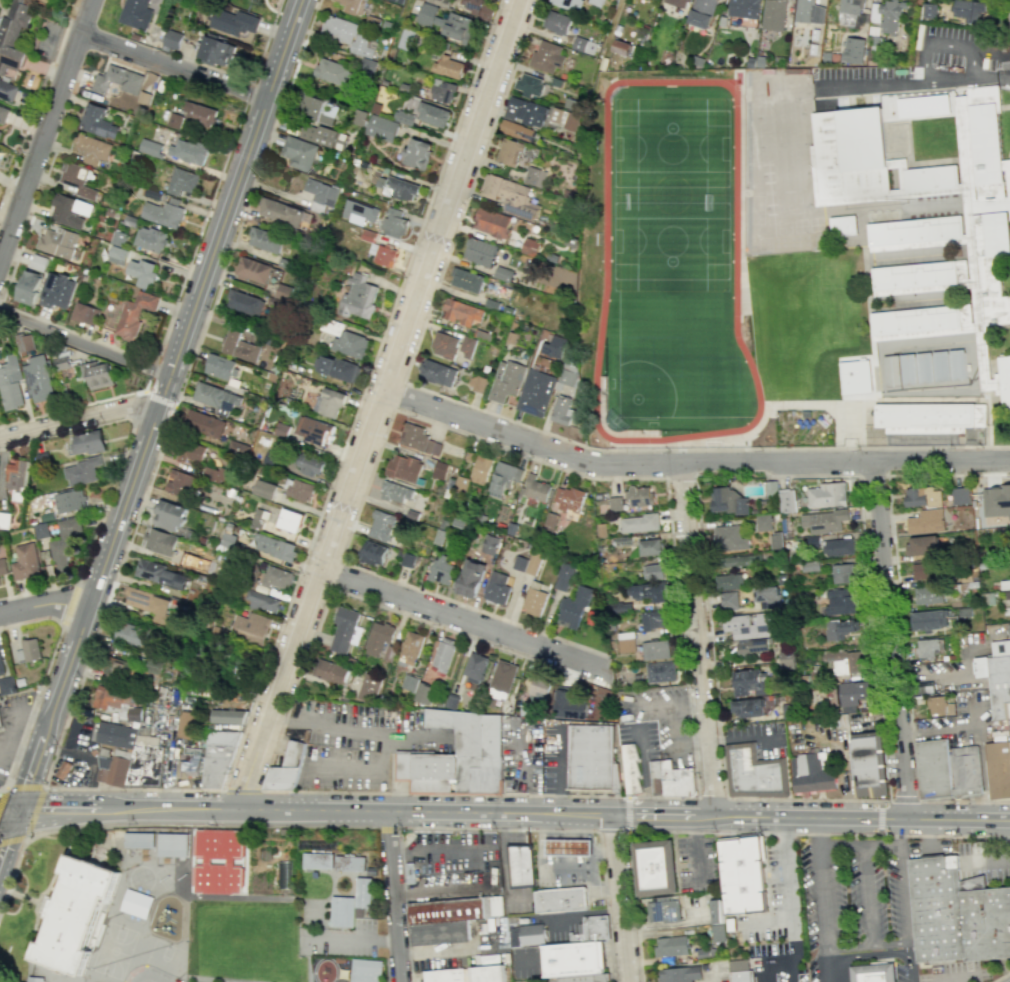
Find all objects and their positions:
building: (440, 2)
building: (595, 2)
building: (567, 3)
building: (678, 3)
building: (352, 6)
building: (475, 6)
building: (744, 8)
building: (969, 10)
building: (930, 11)
building: (809, 12)
building: (850, 12)
building: (135, 13)
building: (701, 13)
building: (773, 14)
building: (886, 15)
road: (1008, 16)
building: (234, 22)
building: (447, 22)
building: (556, 22)
road: (612, 26)
road: (403, 28)
building: (13, 35)
building: (347, 35)
building: (406, 38)
building: (172, 39)
road: (265, 40)
building: (584, 45)
building: (621, 47)
building: (853, 50)
building: (216, 51)
building: (547, 56)
building: (368, 65)
parking lot: (929, 66)
building: (449, 67)
road: (172, 69)
building: (332, 71)
building: (117, 80)
building: (529, 85)
building: (7, 91)
building: (443, 91)
road: (247, 92)
road: (32, 107)
building: (515, 108)
building: (319, 109)
building: (3, 114)
building: (199, 114)
building: (433, 114)
building: (536, 114)
building: (359, 117)
building: (404, 117)
building: (174, 120)
building: (96, 121)
building: (572, 121)
building: (381, 128)
building: (517, 130)
building: (0, 131)
road: (46, 131)
building: (329, 137)
building: (149, 147)
building: (90, 149)
building: (188, 151)
building: (509, 152)
building: (299, 153)
building: (417, 153)
road: (1008, 169)
building: (534, 176)
building: (76, 180)
building: (181, 181)
building: (397, 187)
building: (321, 195)
building: (510, 196)
building: (69, 210)
building: (281, 212)
building: (359, 212)
building: (163, 213)
building: (393, 222)
building: (492, 222)
building: (934, 222)
building: (843, 225)
building: (149, 239)
building: (265, 240)
building: (58, 241)
building: (530, 246)
building: (479, 251)
building: (383, 254)
building: (116, 255)
building: (37, 262)
track: (670, 265)
park: (670, 266)
building: (254, 270)
building: (141, 272)
building: (467, 279)
building: (29, 287)
building: (56, 290)
building: (284, 292)
building: (358, 297)
building: (245, 303)
road: (172, 311)
building: (461, 312)
building: (84, 313)
building: (134, 314)
building: (345, 339)
building: (23, 342)
road: (84, 345)
building: (444, 345)
building: (239, 346)
building: (467, 346)
building: (554, 346)
building: (61, 361)
building: (221, 367)
building: (338, 368)
building: (891, 370)
road: (151, 371)
building: (933, 371)
building: (437, 372)
building: (97, 375)
building: (855, 376)
building: (567, 377)
building: (37, 379)
building: (506, 380)
building: (10, 383)
building: (479, 383)
building: (536, 392)
road: (398, 395)
road: (160, 397)
building: (216, 397)
building: (329, 402)
road: (137, 405)
road: (77, 406)
road: (381, 407)
building: (561, 410)
road: (503, 417)
building: (928, 417)
road: (77, 421)
building: (204, 423)
road: (851, 427)
road: (149, 430)
building: (315, 430)
building: (418, 439)
building: (87, 442)
building: (191, 451)
building: (271, 458)
building: (310, 464)
road: (691, 466)
building: (403, 468)
building: (480, 469)
building: (80, 471)
road: (115, 473)
building: (215, 473)
road: (871, 475)
road: (696, 476)
road: (680, 477)
building: (503, 478)
building: (15, 479)
building: (179, 483)
building: (536, 488)
building: (770, 488)
building: (265, 489)
building: (298, 489)
building: (396, 492)
building: (827, 495)
building: (960, 495)
building: (639, 496)
building: (922, 496)
building: (568, 498)
building: (787, 500)
building: (69, 501)
building: (727, 501)
building: (996, 501)
building: (615, 503)
building: (169, 515)
building: (258, 519)
building: (4, 520)
building: (289, 520)
building: (823, 521)
building: (926, 521)
building: (763, 522)
building: (639, 523)
building: (381, 525)
building: (40, 530)
building: (729, 538)
building: (775, 540)
building: (160, 541)
building: (64, 543)
building: (490, 544)
building: (923, 545)
building: (274, 547)
building: (650, 547)
building: (838, 547)
building: (372, 552)
building: (737, 560)
building: (25, 562)
building: (527, 562)
building: (2, 566)
building: (810, 566)
building: (440, 570)
building: (923, 570)
building: (653, 571)
building: (843, 573)
building: (161, 574)
road: (334, 575)
building: (564, 576)
building: (276, 577)
building: (470, 578)
building: (729, 581)
building: (0, 582)
building: (497, 588)
building: (651, 591)
building: (928, 594)
building: (768, 597)
building: (728, 600)
building: (534, 601)
road: (68, 602)
building: (263, 602)
building: (840, 602)
building: (149, 603)
road: (46, 608)
building: (573, 609)
building: (930, 619)
road: (30, 620)
building: (654, 620)
road: (899, 620)
road: (468, 623)
building: (748, 625)
building: (250, 627)
building: (840, 629)
building: (345, 630)
building: (130, 633)
building: (378, 638)
building: (626, 642)
road: (699, 642)
road: (889, 642)
building: (752, 646)
building: (410, 647)
building: (926, 647)
building: (655, 650)
building: (28, 651)
building: (443, 653)
building: (786, 657)
building: (845, 662)
building: (153, 666)
building: (115, 667)
building: (475, 667)
building: (329, 671)
building: (660, 672)
building: (502, 680)
building: (409, 682)
building: (749, 682)
building: (6, 685)
building: (927, 686)
building: (369, 687)
building: (540, 687)
building: (1000, 688)
building: (424, 693)
building: (851, 695)
building: (109, 697)
road: (670, 703)
building: (569, 705)
road: (33, 706)
building: (939, 706)
building: (747, 707)
building: (133, 713)
building: (227, 716)
road: (35, 718)
parking lot: (660, 718)
building: (185, 724)
building: (0, 726)
parking lot: (11, 726)
road: (356, 728)
building: (0, 731)
building: (115, 734)
road: (13, 735)
parking lot: (640, 737)
road: (680, 738)
road: (692, 746)
building: (472, 747)
parking lot: (520, 753)
building: (293, 754)
parking lot: (554, 755)
building: (217, 756)
building: (591, 757)
building: (145, 760)
building: (189, 761)
building: (113, 767)
building: (629, 767)
building: (425, 768)
building: (62, 769)
building: (872, 769)
building: (933, 769)
building: (998, 770)
building: (968, 772)
road: (525, 773)
road: (558, 774)
building: (756, 774)
road: (646, 776)
building: (814, 776)
building: (281, 778)
building: (670, 778)
road: (2, 787)
road: (134, 789)
road: (240, 790)
road: (711, 797)
road: (38, 798)
road: (903, 799)
road: (8, 810)
road: (44, 810)
road: (95, 811)
road: (625, 812)
traffic signals: (17, 814)
road: (364, 814)
road: (879, 816)
road: (8, 817)
road: (651, 818)
road: (704, 818)
road: (863, 819)
road: (162, 824)
road: (545, 827)
road: (387, 828)
road: (498, 828)
road: (579, 828)
road: (611, 831)
road: (742, 832)
road: (556, 834)
road: (569, 834)
road: (585, 835)
road: (928, 835)
building: (138, 839)
road: (1008, 840)
building: (172, 844)
road: (546, 847)
road: (560, 847)
building: (567, 847)
road: (574, 847)
road: (588, 847)
road: (694, 847)
road: (859, 847)
parking lot: (929, 847)
road: (589, 850)
road: (602, 850)
parking lot: (449, 851)
road: (437, 852)
building: (317, 860)
road: (547, 860)
road: (561, 860)
road: (575, 860)
road: (589, 860)
parking lot: (986, 860)
building: (206, 861)
road: (989, 861)
building: (349, 864)
parking lot: (697, 864)
building: (519, 865)
building: (654, 867)
road: (503, 868)
road: (589, 869)
building: (370, 871)
gas station: (565, 871)
building: (409, 872)
building: (283, 874)
building: (743, 875)
parking lot: (558, 879)
road: (782, 880)
road: (451, 889)
building: (362, 892)
road: (22, 896)
road: (867, 897)
road: (393, 898)
building: (560, 900)
road: (618, 900)
road: (821, 900)
road: (905, 900)
parking lot: (518, 901)
building: (136, 903)
parking lot: (856, 907)
building: (454, 909)
building: (664, 909)
building: (342, 911)
building: (716, 911)
building: (75, 914)
road: (573, 914)
building: (957, 914)
parking lot: (777, 916)
road: (776, 924)
parking lot: (560, 926)
building: (590, 929)
building: (439, 932)
building: (718, 933)
building: (532, 934)
road: (356, 937)
parking lot: (342, 939)
building: (670, 946)
road: (867, 946)
road: (613, 949)
road: (454, 950)
park: (114, 951)
road: (572, 953)
building: (702, 953)
road: (532, 956)
road: (867, 956)
park: (166, 958)
building: (572, 959)
parking lot: (526, 962)
road: (789, 962)
building: (365, 970)
parking lot: (955, 973)
building: (466, 974)
building: (678, 974)
building: (874, 974)
building: (742, 976)
road: (951, 976)
road: (999, 976)
road: (148, 977)
parking lot: (155, 977)
building: (584, 978)
building: (35, 979)
parking lot: (536, 980)
road: (387, 981)

